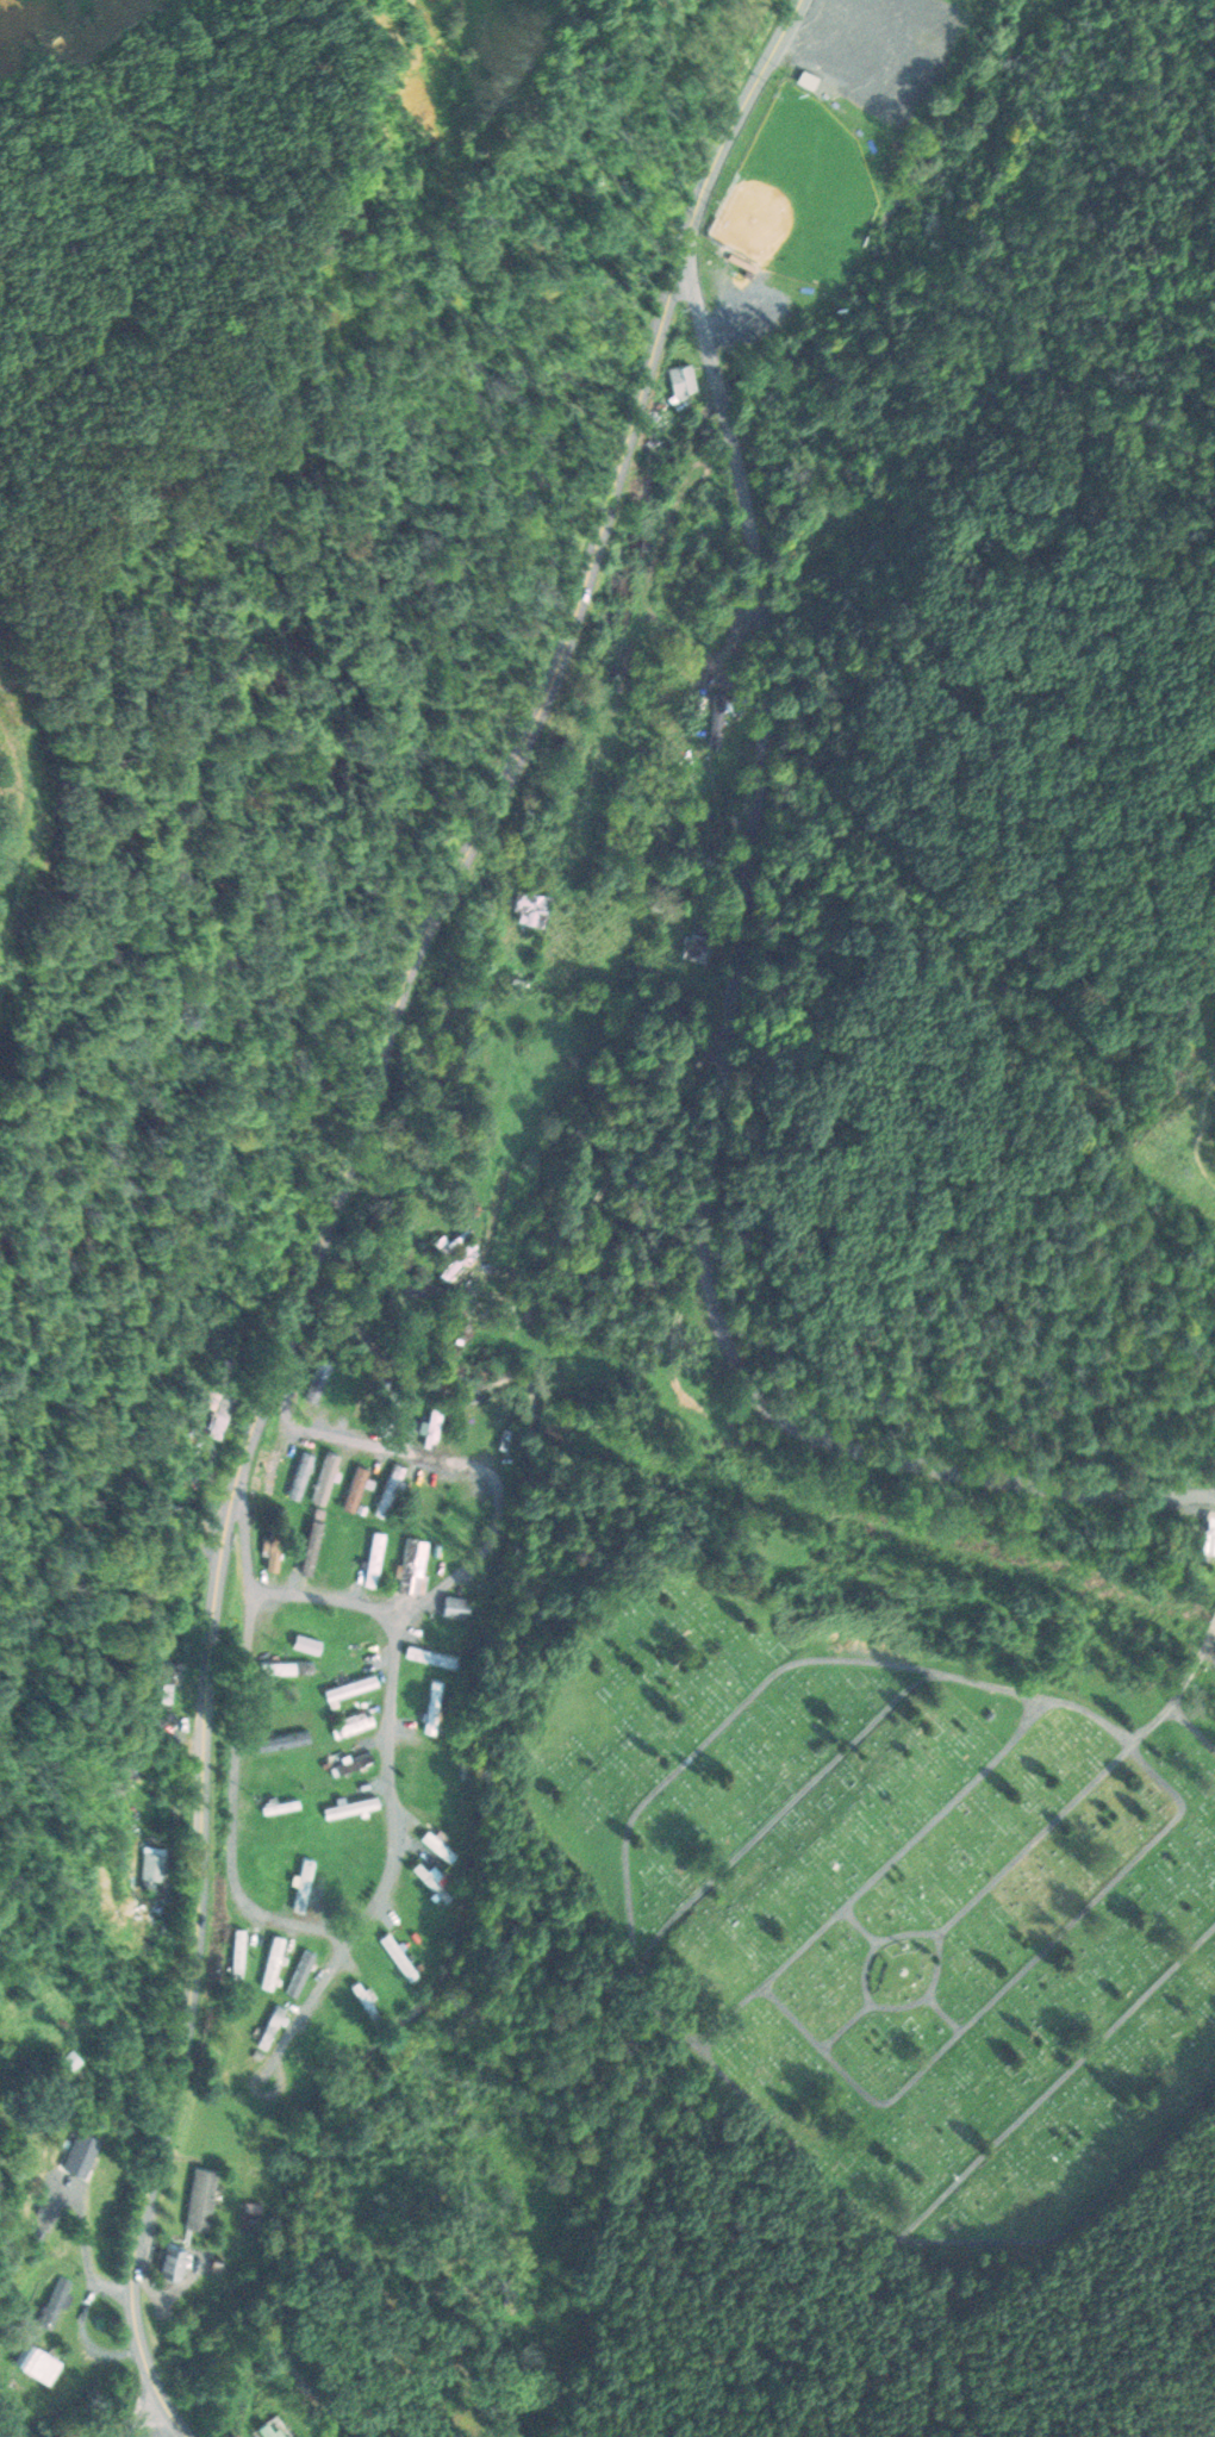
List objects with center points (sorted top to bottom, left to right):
building: (804, 77)
park: (799, 195)
park: (912, 254)
road: (698, 318)
building: (680, 378)
road: (718, 394)
road: (711, 1142)
road: (337, 1192)
road: (438, 1459)
road: (243, 1539)
road: (359, 1606)
road: (1208, 1638)
road: (1192, 1728)
road: (781, 1818)
road: (872, 1880)
road: (991, 1884)
park: (892, 1894)
road: (860, 1928)
road: (637, 1984)
road: (1003, 1992)
road: (945, 2015)
road: (1054, 2083)
road: (139, 2420)
road: (170, 2427)

